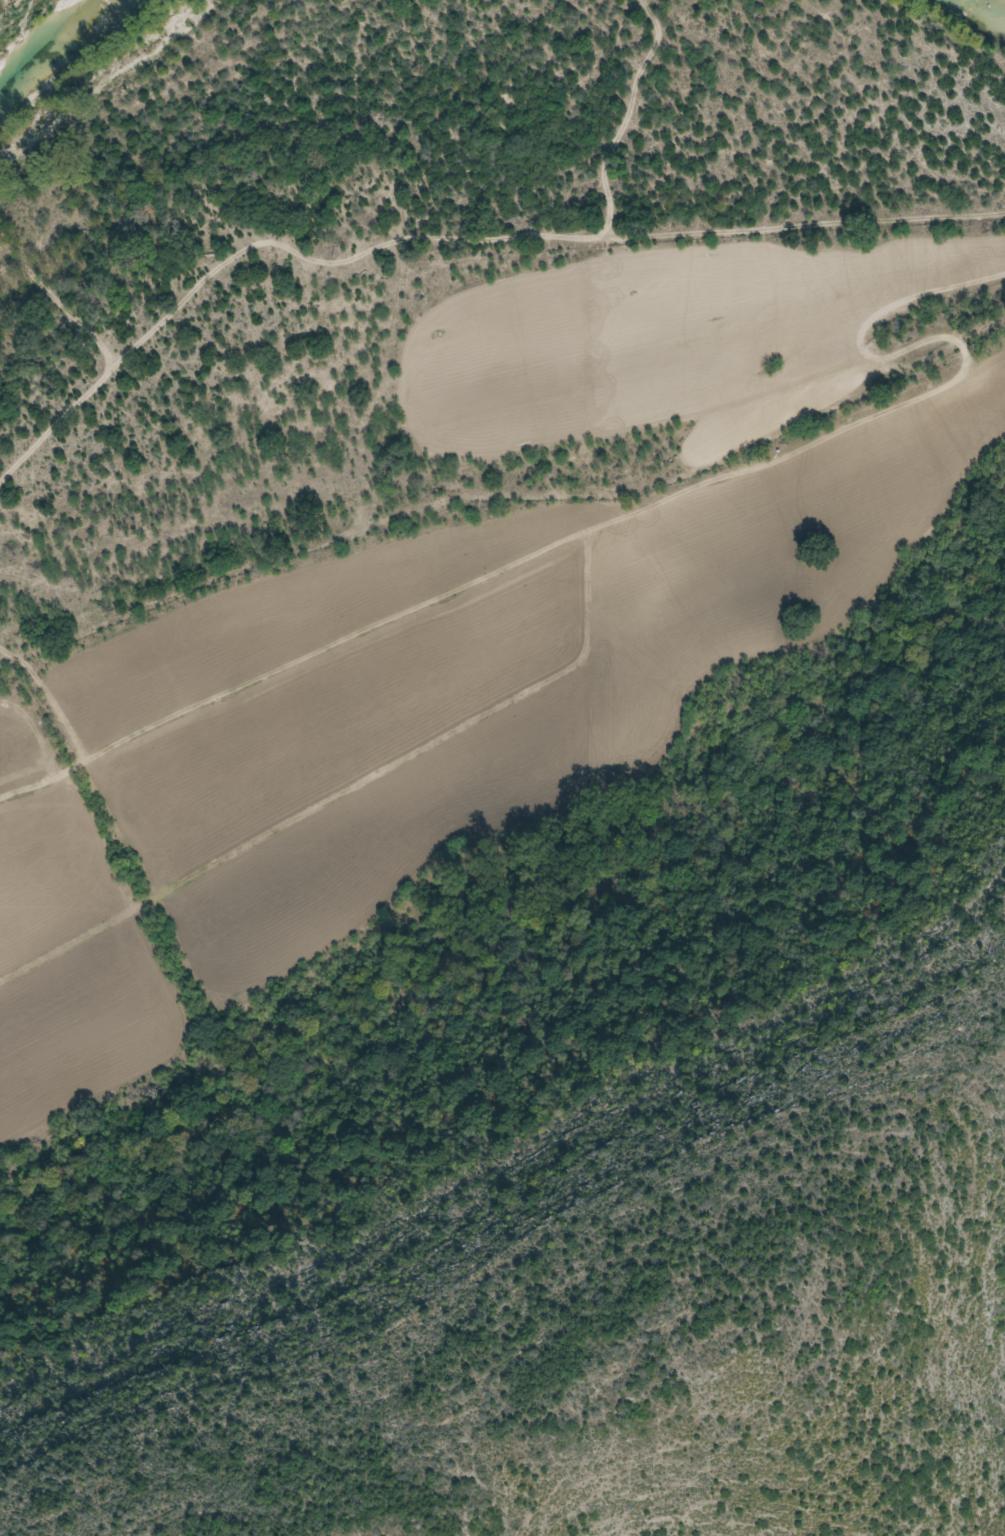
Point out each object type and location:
river: (988, 5)
building: (1, 8)
river: (61, 49)
road: (127, 362)

